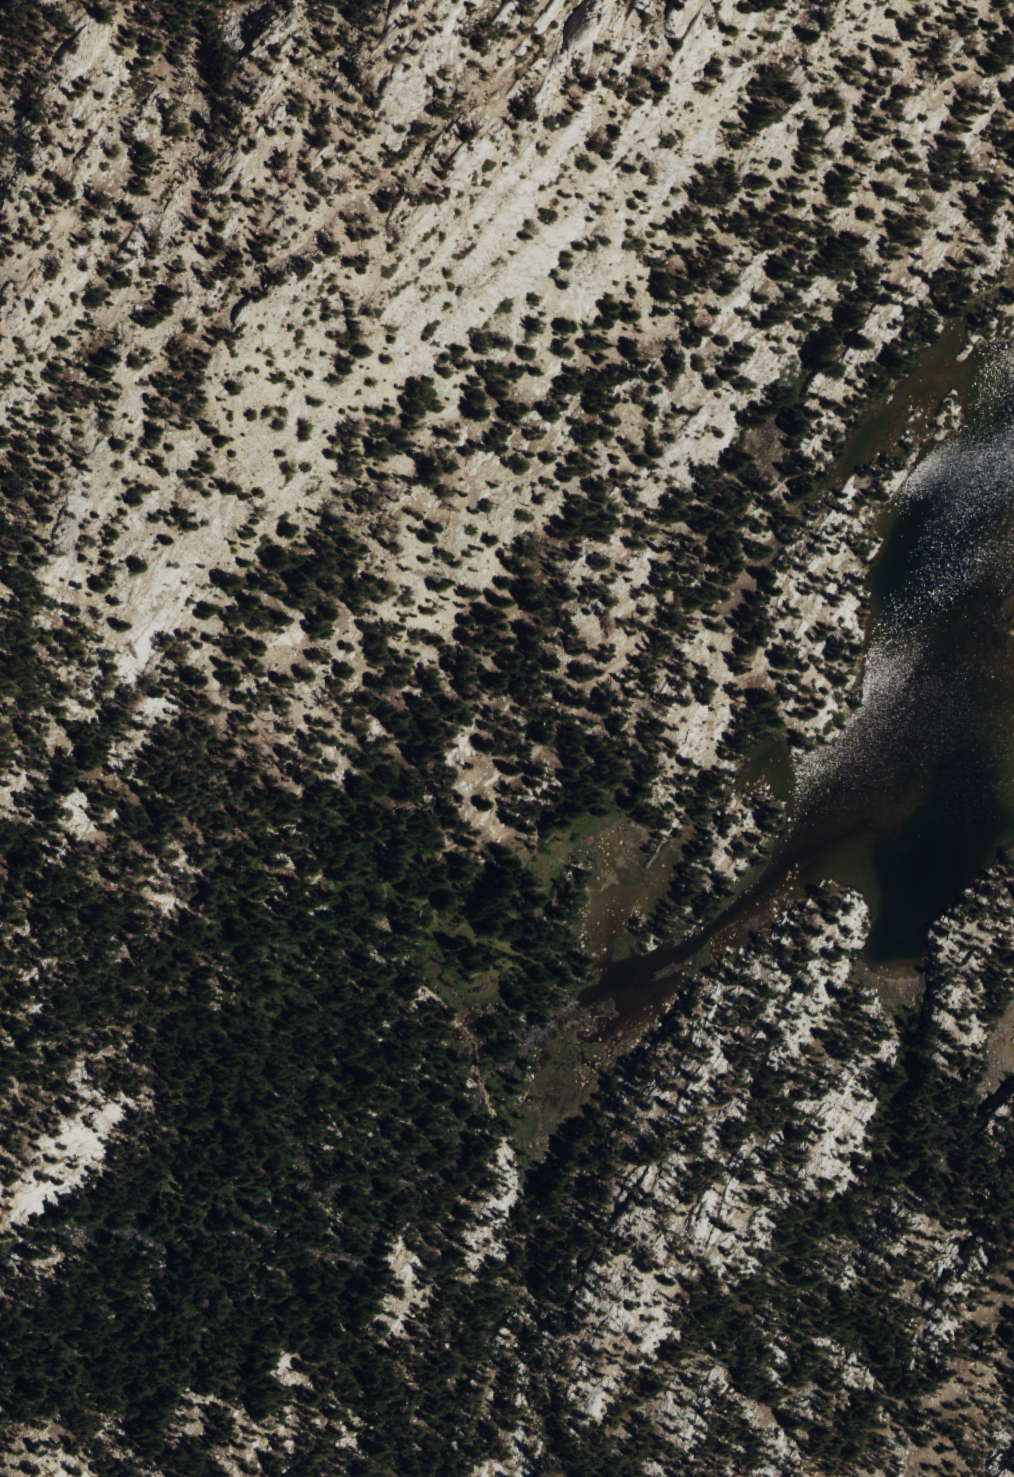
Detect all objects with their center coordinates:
road: (468, 836)

